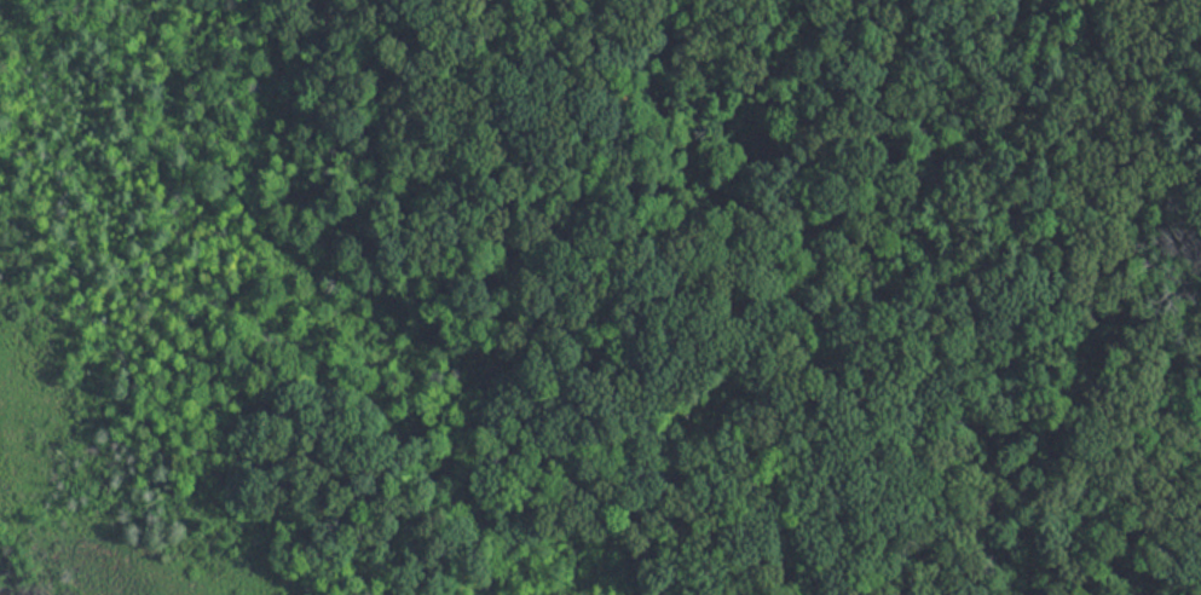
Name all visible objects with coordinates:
park: (600, 297)

